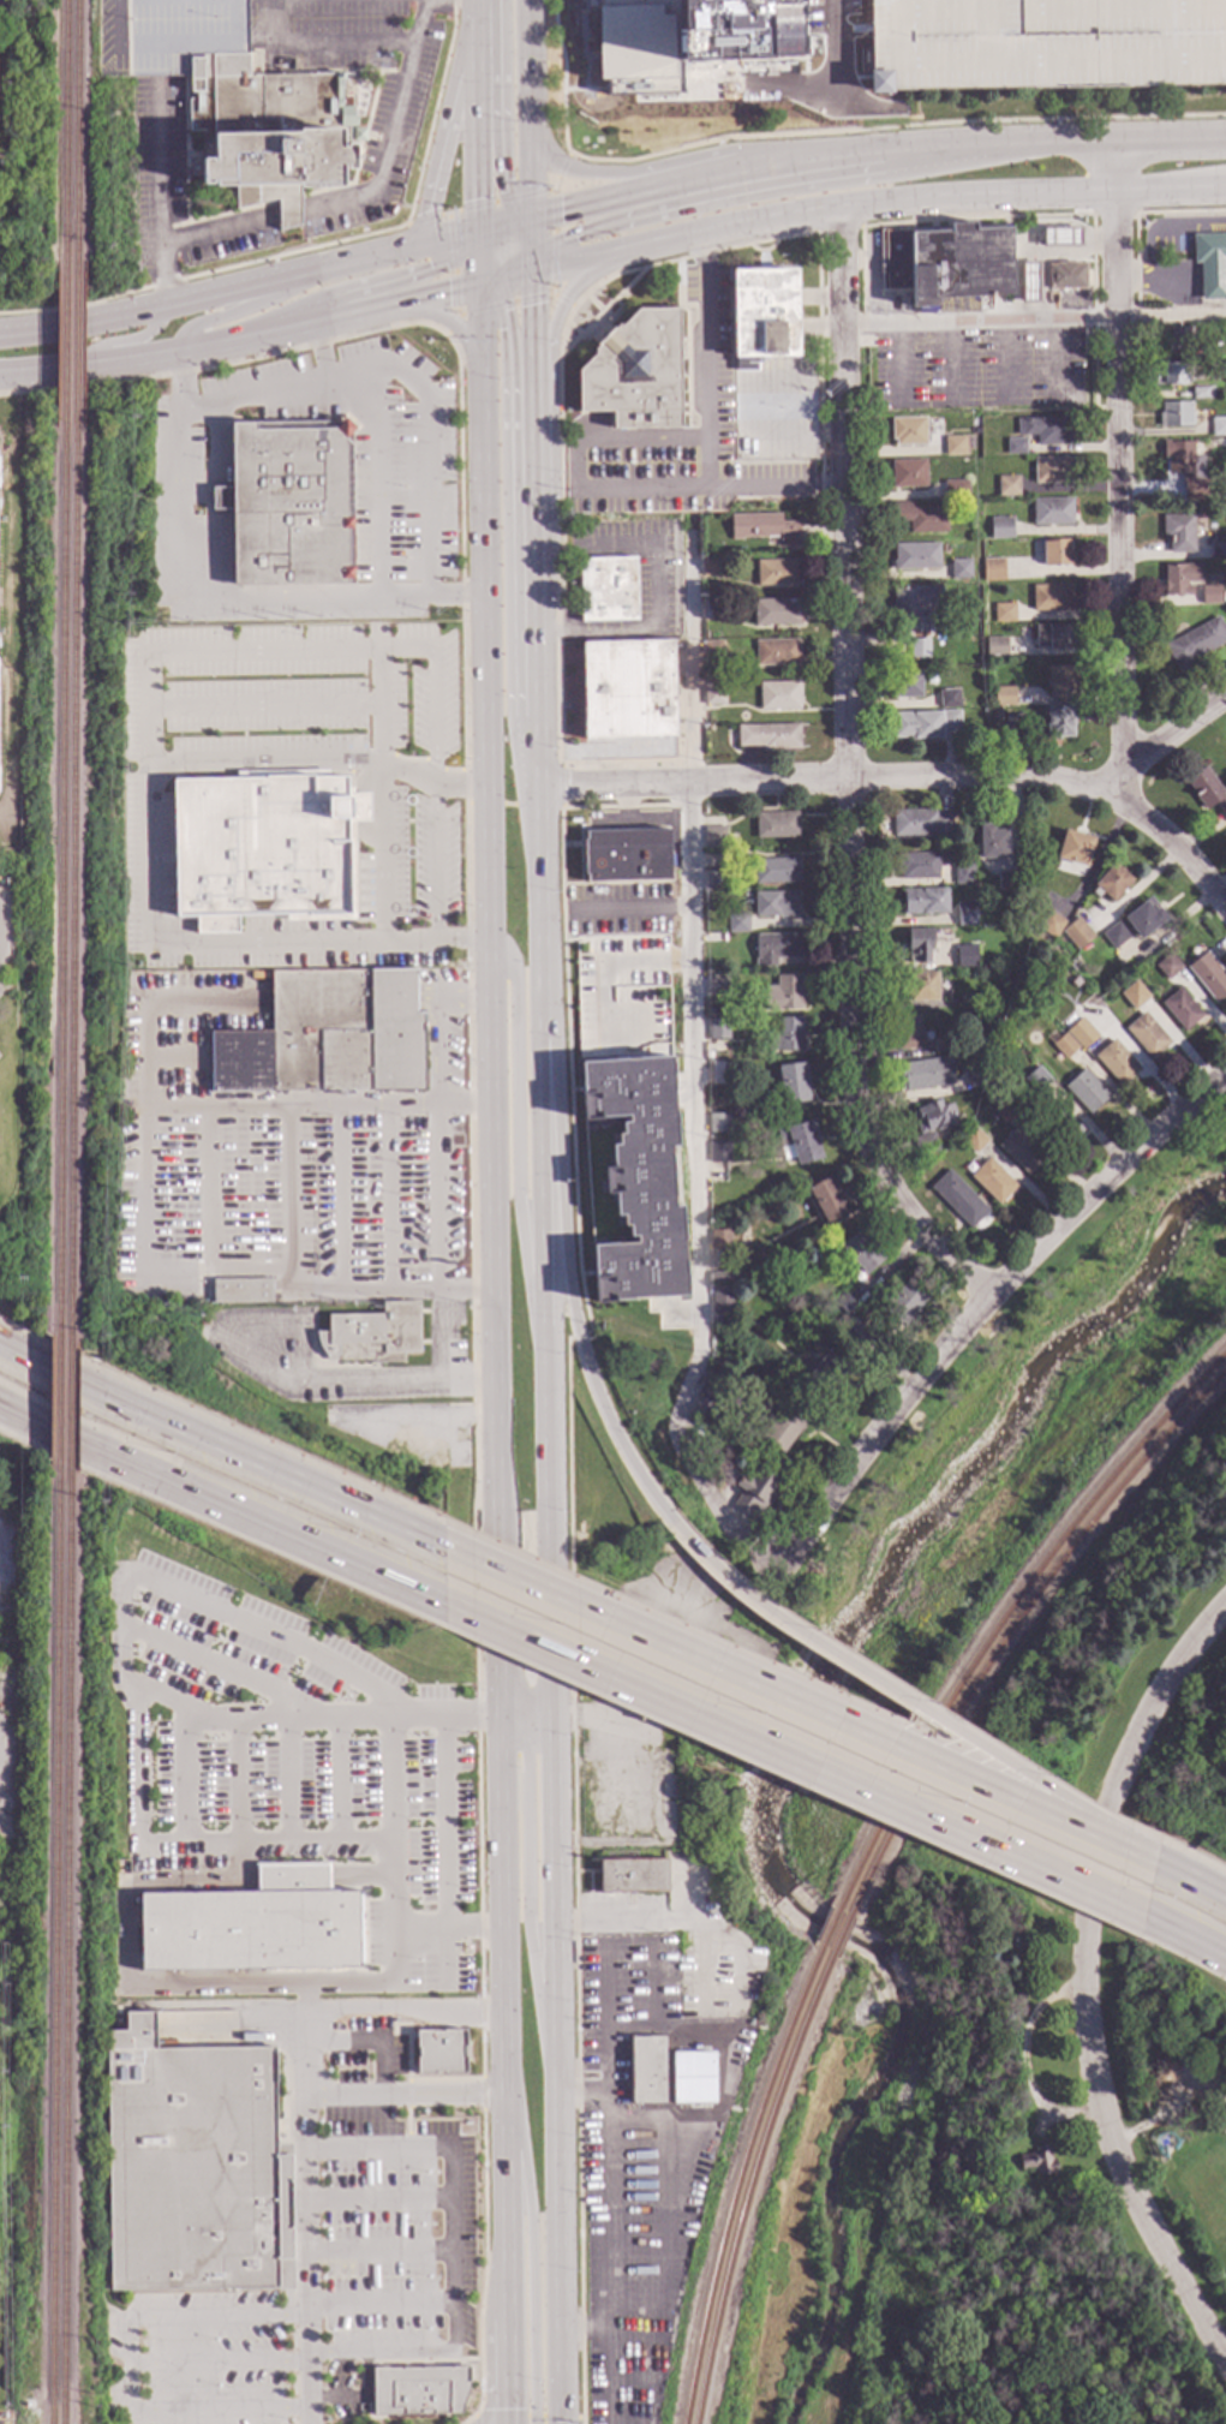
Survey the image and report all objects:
building: (687, 34)
road: (832, 43)
building: (1045, 43)
parking lot: (1045, 43)
road: (311, 50)
parking lot: (716, 60)
road: (530, 71)
road: (562, 77)
road: (825, 88)
road: (498, 92)
road: (432, 112)
road: (478, 114)
road: (895, 126)
road: (447, 127)
railway: (68, 131)
railway: (80, 131)
building: (268, 132)
road: (1170, 139)
road: (1052, 143)
road: (865, 156)
road: (1113, 165)
road: (160, 167)
building: (195, 171)
road: (560, 171)
road: (629, 173)
road: (530, 179)
road: (1170, 187)
traffic signals: (503, 189)
road: (778, 189)
road: (634, 193)
road: (366, 197)
traffic signals: (477, 201)
road: (857, 203)
road: (506, 204)
traffic signals: (560, 210)
road: (1178, 211)
road: (1112, 214)
road: (975, 216)
road: (519, 219)
road: (426, 220)
road: (492, 226)
road: (522, 228)
road: (837, 229)
road: (510, 232)
road: (531, 233)
building: (1060, 237)
road: (438, 239)
traffic signals: (567, 239)
road: (486, 240)
gas station: (1051, 240)
road: (477, 243)
road: (549, 244)
road: (506, 245)
road: (518, 247)
road: (488, 252)
road: (527, 252)
road: (688, 256)
road: (498, 259)
road: (512, 262)
road: (532, 262)
road: (527, 263)
road: (569, 263)
building: (1212, 264)
traffic signals: (438, 265)
building: (967, 267)
road: (478, 270)
road: (203, 274)
road: (501, 274)
road: (163, 276)
road: (490, 276)
road: (516, 276)
road: (389, 279)
road: (490, 282)
road: (551, 287)
traffic signals: (449, 293)
road: (202, 295)
road: (562, 300)
road: (396, 304)
traffic signals: (533, 305)
road: (557, 308)
road: (244, 310)
building: (765, 312)
traffic signals: (504, 318)
road: (1035, 320)
road: (450, 323)
road: (450, 324)
road: (533, 324)
building: (1225, 335)
road: (127, 340)
building: (1180, 340)
railway: (67, 345)
railway: (79, 345)
road: (157, 356)
road: (225, 364)
building: (636, 371)
building: (1172, 374)
building: (1202, 392)
road: (251, 398)
road: (507, 402)
building: (1177, 413)
building: (1219, 425)
building: (1047, 429)
building: (910, 430)
road: (676, 441)
building: (1219, 443)
building: (956, 444)
building: (1017, 444)
road: (533, 450)
building: (1186, 464)
road: (427, 468)
building: (1054, 468)
building: (910, 473)
road: (701, 477)
building: (1009, 484)
road: (773, 485)
building: (956, 489)
road: (1119, 494)
building: (288, 504)
building: (1053, 511)
building: (921, 517)
building: (1001, 526)
building: (766, 527)
building: (1180, 531)
road: (557, 533)
building: (1218, 549)
building: (1057, 551)
building: (917, 556)
building: (712, 567)
building: (959, 568)
building: (994, 568)
building: (779, 571)
building: (1182, 578)
building: (609, 589)
building: (1210, 593)
building: (1053, 596)
building: (1225, 596)
road: (211, 598)
building: (713, 608)
building: (777, 610)
building: (917, 610)
road: (488, 611)
building: (1005, 611)
road: (537, 620)
building: (1054, 634)
building: (1196, 643)
building: (997, 645)
building: (713, 649)
building: (913, 649)
building: (778, 651)
building: (1064, 677)
building: (908, 683)
building: (628, 688)
building: (714, 688)
building: (1005, 694)
building: (781, 695)
building: (950, 698)
road: (146, 711)
building: (998, 715)
building: (1059, 721)
building: (1013, 722)
building: (925, 723)
building: (770, 735)
road: (1167, 741)
road: (539, 751)
road: (264, 763)
road: (845, 771)
road: (830, 777)
road: (558, 786)
road: (435, 787)
building: (1207, 789)
road: (8, 794)
building: (921, 823)
building: (778, 824)
building: (716, 836)
building: (992, 841)
building: (1076, 847)
road: (1177, 847)
building: (265, 848)
building: (627, 855)
road: (436, 864)
building: (919, 865)
building: (777, 870)
building: (964, 872)
building: (717, 878)
building: (1007, 879)
building: (1112, 880)
road: (1220, 884)
railway: (65, 885)
railway: (76, 888)
building: (925, 901)
building: (777, 903)
road: (629, 911)
building: (968, 912)
building: (1144, 918)
building: (738, 921)
building: (1052, 924)
building: (1078, 933)
building: (1117, 933)
building: (920, 944)
building: (777, 947)
road: (1, 955)
building: (967, 955)
building: (1170, 965)
road: (600, 972)
building: (257, 975)
building: (1209, 975)
building: (718, 983)
building: (921, 985)
building: (782, 993)
building: (1134, 995)
parking lot: (622, 997)
building: (969, 1001)
building: (1182, 1008)
road: (439, 1026)
building: (719, 1027)
building: (909, 1032)
building: (1148, 1033)
building: (788, 1034)
building: (327, 1037)
building: (946, 1044)
building: (1066, 1045)
building: (1118, 1062)
road: (695, 1067)
building: (722, 1073)
building: (927, 1073)
road: (568, 1075)
building: (975, 1075)
building: (1039, 1079)
building: (793, 1082)
building: (1087, 1089)
building: (1006, 1107)
road: (208, 1109)
building: (719, 1122)
building: (931, 1124)
building: (1061, 1126)
building: (975, 1139)
building: (801, 1142)
building: (720, 1151)
building: (1022, 1151)
road: (516, 1152)
building: (632, 1178)
building: (994, 1181)
road: (286, 1189)
road: (437, 1198)
building: (827, 1198)
building: (959, 1198)
road: (341, 1199)
road: (387, 1199)
road: (472, 1205)
road: (494, 1231)
building: (720, 1238)
road: (549, 1249)
building: (862, 1249)
road: (243, 1272)
building: (726, 1276)
building: (183, 1283)
building: (240, 1291)
building: (723, 1298)
road: (980, 1300)
building: (905, 1302)
building: (844, 1306)
building: (203, 1323)
building: (854, 1332)
building: (371, 1336)
road: (578, 1337)
road: (441, 1360)
building: (720, 1367)
building: (827, 1372)
road: (331, 1379)
building: (712, 1386)
railway: (61, 1403)
railway: (73, 1408)
building: (705, 1408)
park: (1035, 1421)
building: (781, 1429)
building: (755, 1492)
road: (223, 1497)
road: (216, 1532)
railway: (1006, 1613)
road: (496, 1622)
railway: (1013, 1626)
road: (215, 1661)
park: (1143, 1666)
road: (124, 1674)
road: (1154, 1698)
road: (540, 1715)
road: (444, 1716)
road: (289, 1718)
road: (512, 1718)
road: (599, 1727)
road: (797, 1751)
road: (337, 1778)
road: (285, 1779)
road: (238, 1780)
road: (779, 1786)
park: (773, 1849)
road: (527, 1856)
building: (630, 1876)
road: (390, 1877)
road: (574, 1880)
building: (812, 1882)
road: (501, 1899)
road: (557, 1904)
road: (686, 1923)
building: (252, 1927)
railway: (831, 1930)
road: (1186, 1930)
railway: (843, 1936)
railway: (55, 1945)
railway: (68, 1947)
road: (1176, 1964)
road: (700, 1968)
road: (360, 1983)
road: (369, 2044)
building: (686, 2047)
road: (1022, 2052)
building: (439, 2053)
building: (646, 2072)
road: (482, 2094)
road: (581, 2095)
road: (407, 2097)
road: (1072, 2113)
road: (304, 2115)
road: (1153, 2120)
road: (634, 2124)
road: (450, 2153)
road: (1114, 2154)
building: (1037, 2162)
building: (191, 2166)
railway: (740, 2181)
road: (662, 2184)
railway: (753, 2186)
park: (952, 2193)
park: (952, 2193)
road: (508, 2201)
park: (1208, 2201)
road: (378, 2203)
road: (533, 2250)
road: (379, 2255)
road: (560, 2258)
road: (483, 2262)
road: (1033, 2274)
road: (381, 2301)
road: (220, 2318)
road: (647, 2318)
road: (608, 2319)
road: (584, 2333)
road: (406, 2350)
road: (220, 2365)
road: (132, 2366)
road: (510, 2372)
road: (366, 2376)
building: (418, 2393)
road: (337, 2400)
road: (221, 2412)
road: (474, 2419)

